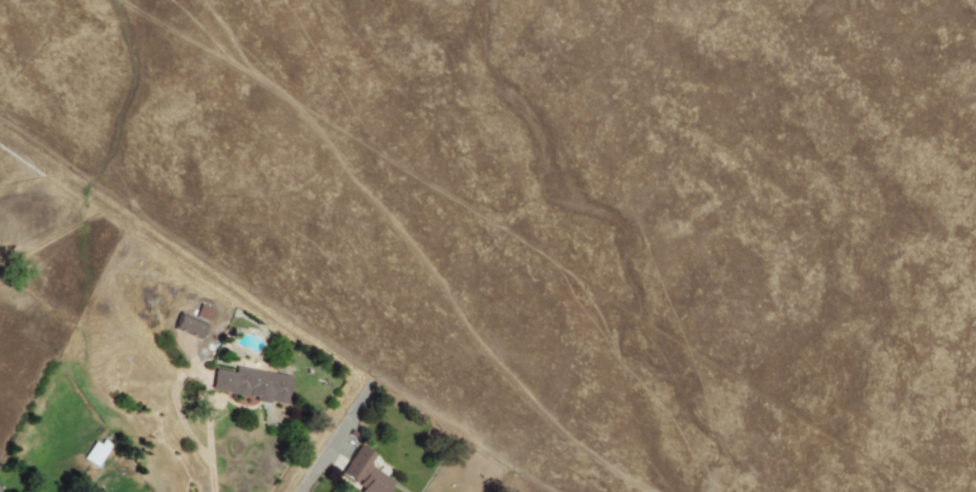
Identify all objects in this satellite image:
building: (202, 312)
building: (187, 327)
building: (252, 384)
road: (209, 444)
road: (316, 470)
building: (364, 473)

